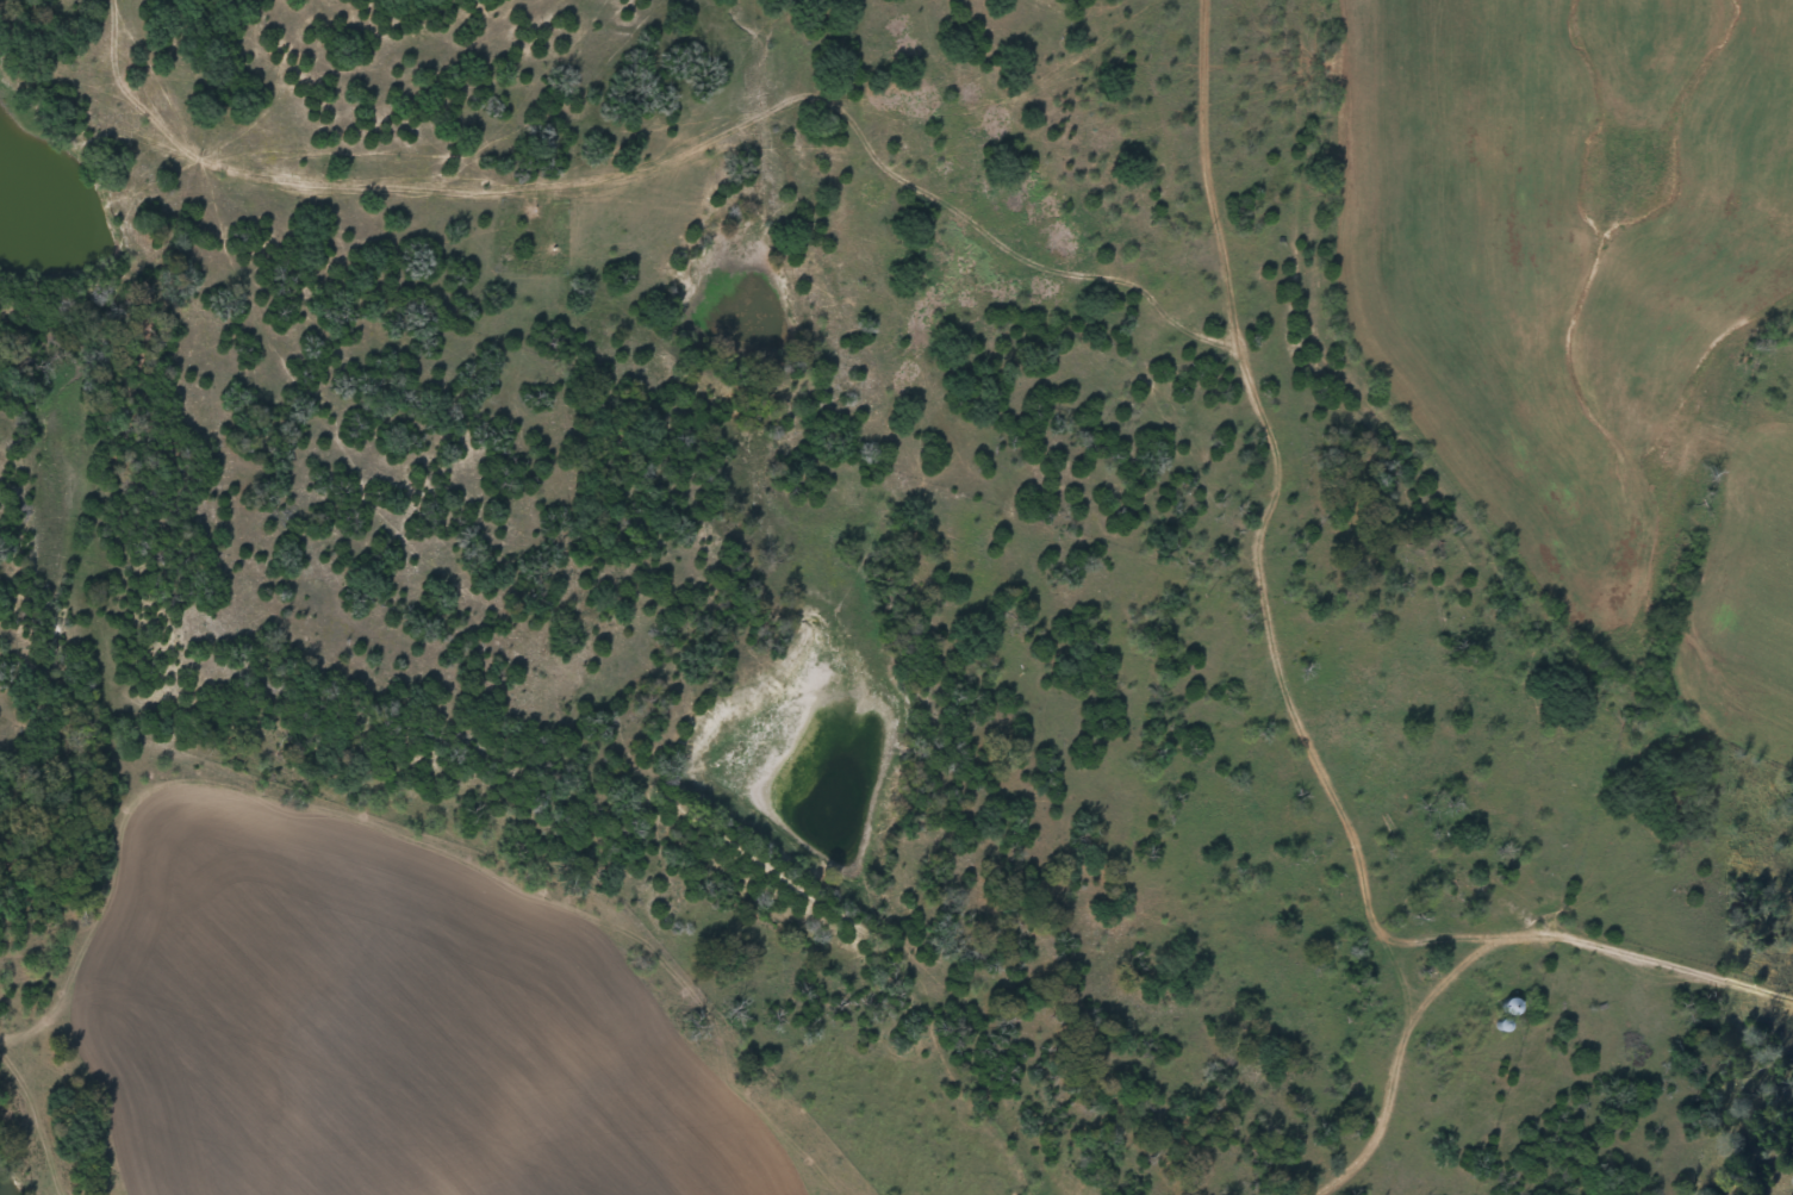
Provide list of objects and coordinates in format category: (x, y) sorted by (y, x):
road: (1641, 992)

